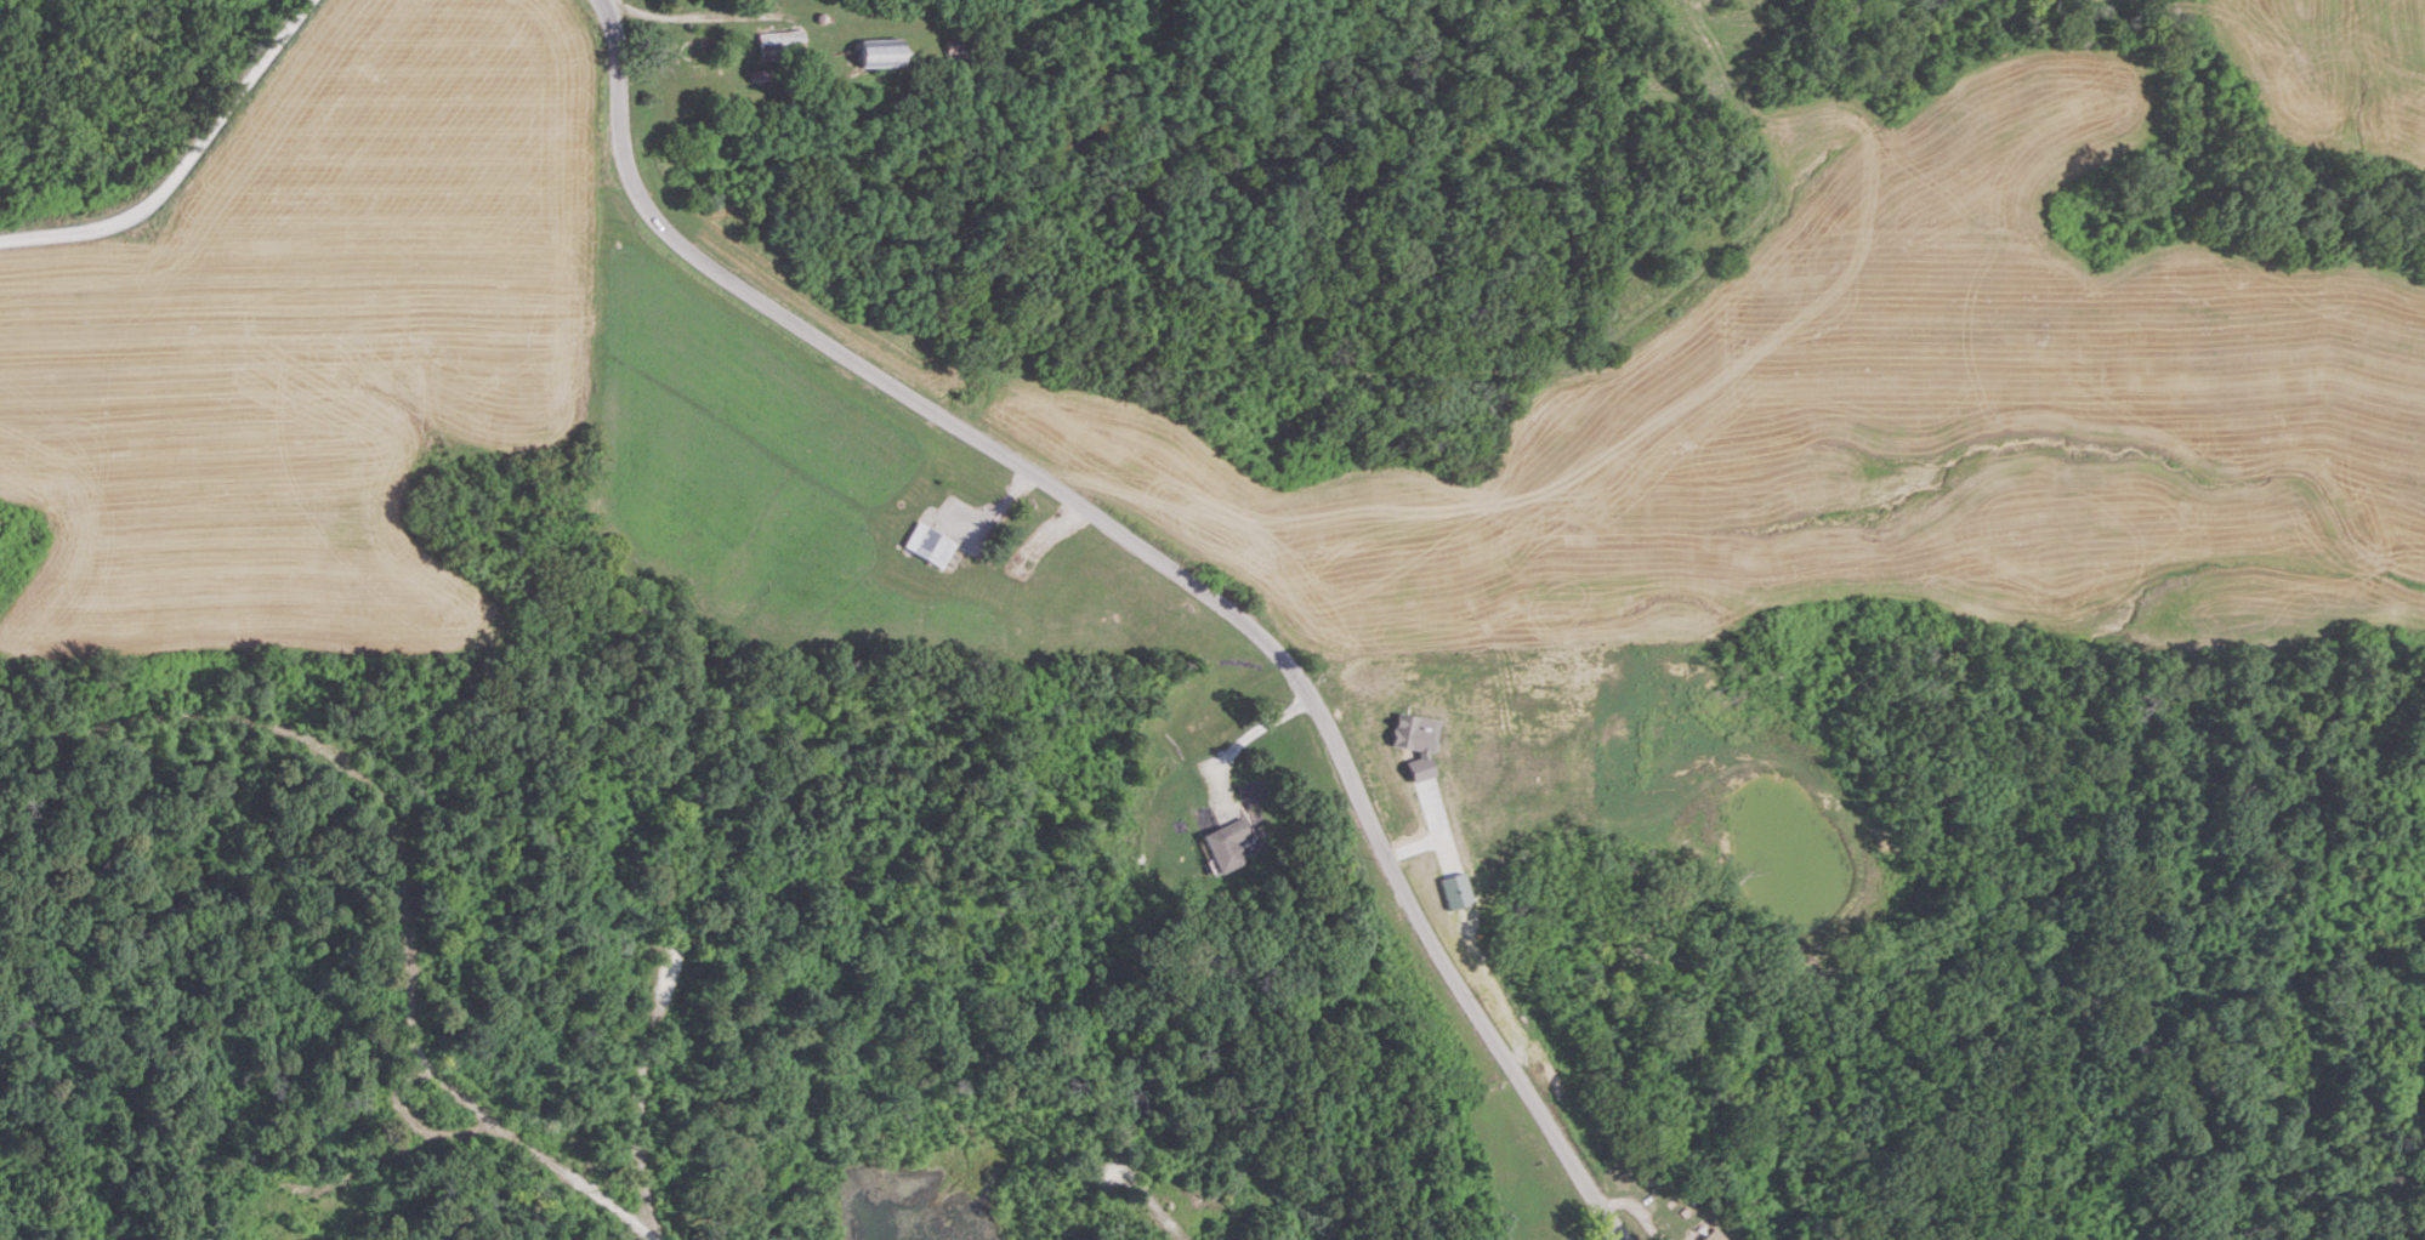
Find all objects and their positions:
building: (779, 44)
building: (958, 51)
building: (879, 52)
road: (182, 163)
building: (927, 545)
road: (1160, 554)
building: (1225, 844)
road: (426, 1077)
road: (573, 1183)
building: (1711, 1235)
road: (1619, 1238)
building: (262, 1239)

